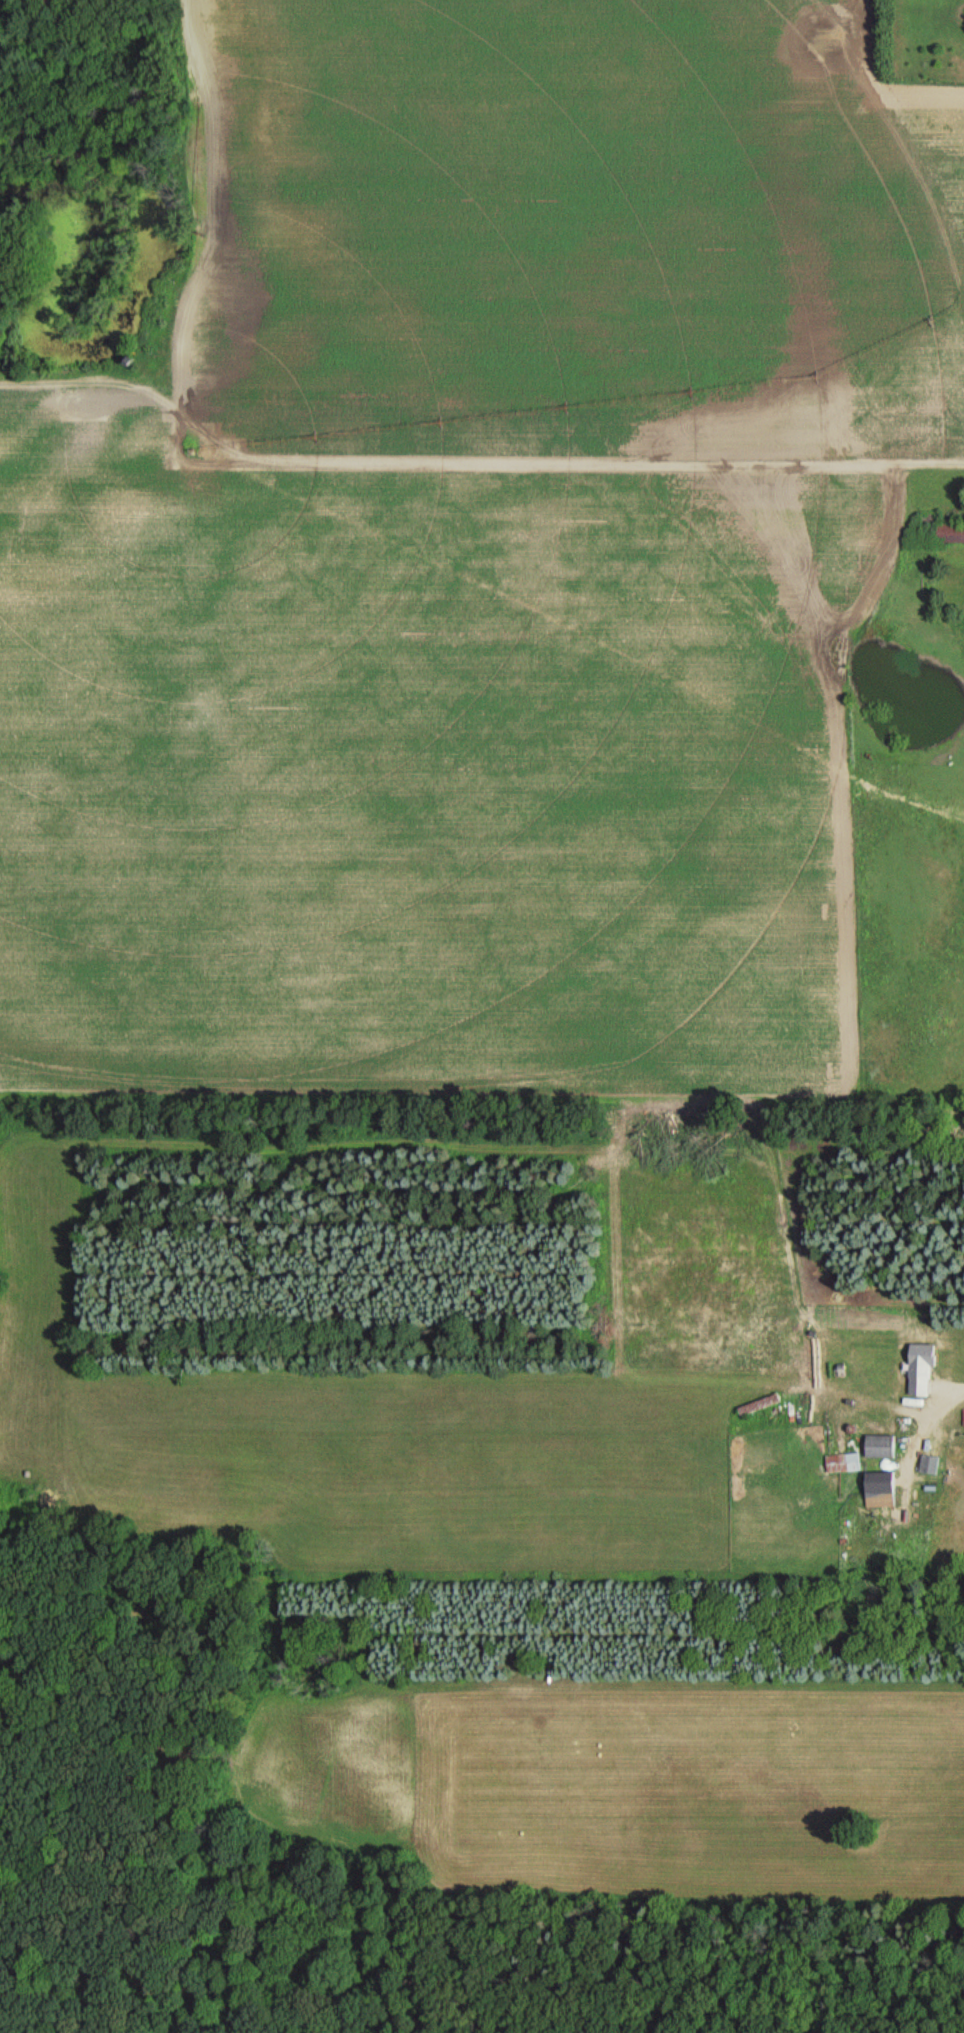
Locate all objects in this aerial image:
road: (458, 464)
building: (949, 534)
building: (917, 1369)
road: (930, 1405)
building: (877, 1447)
building: (841, 1464)
building: (876, 1490)

